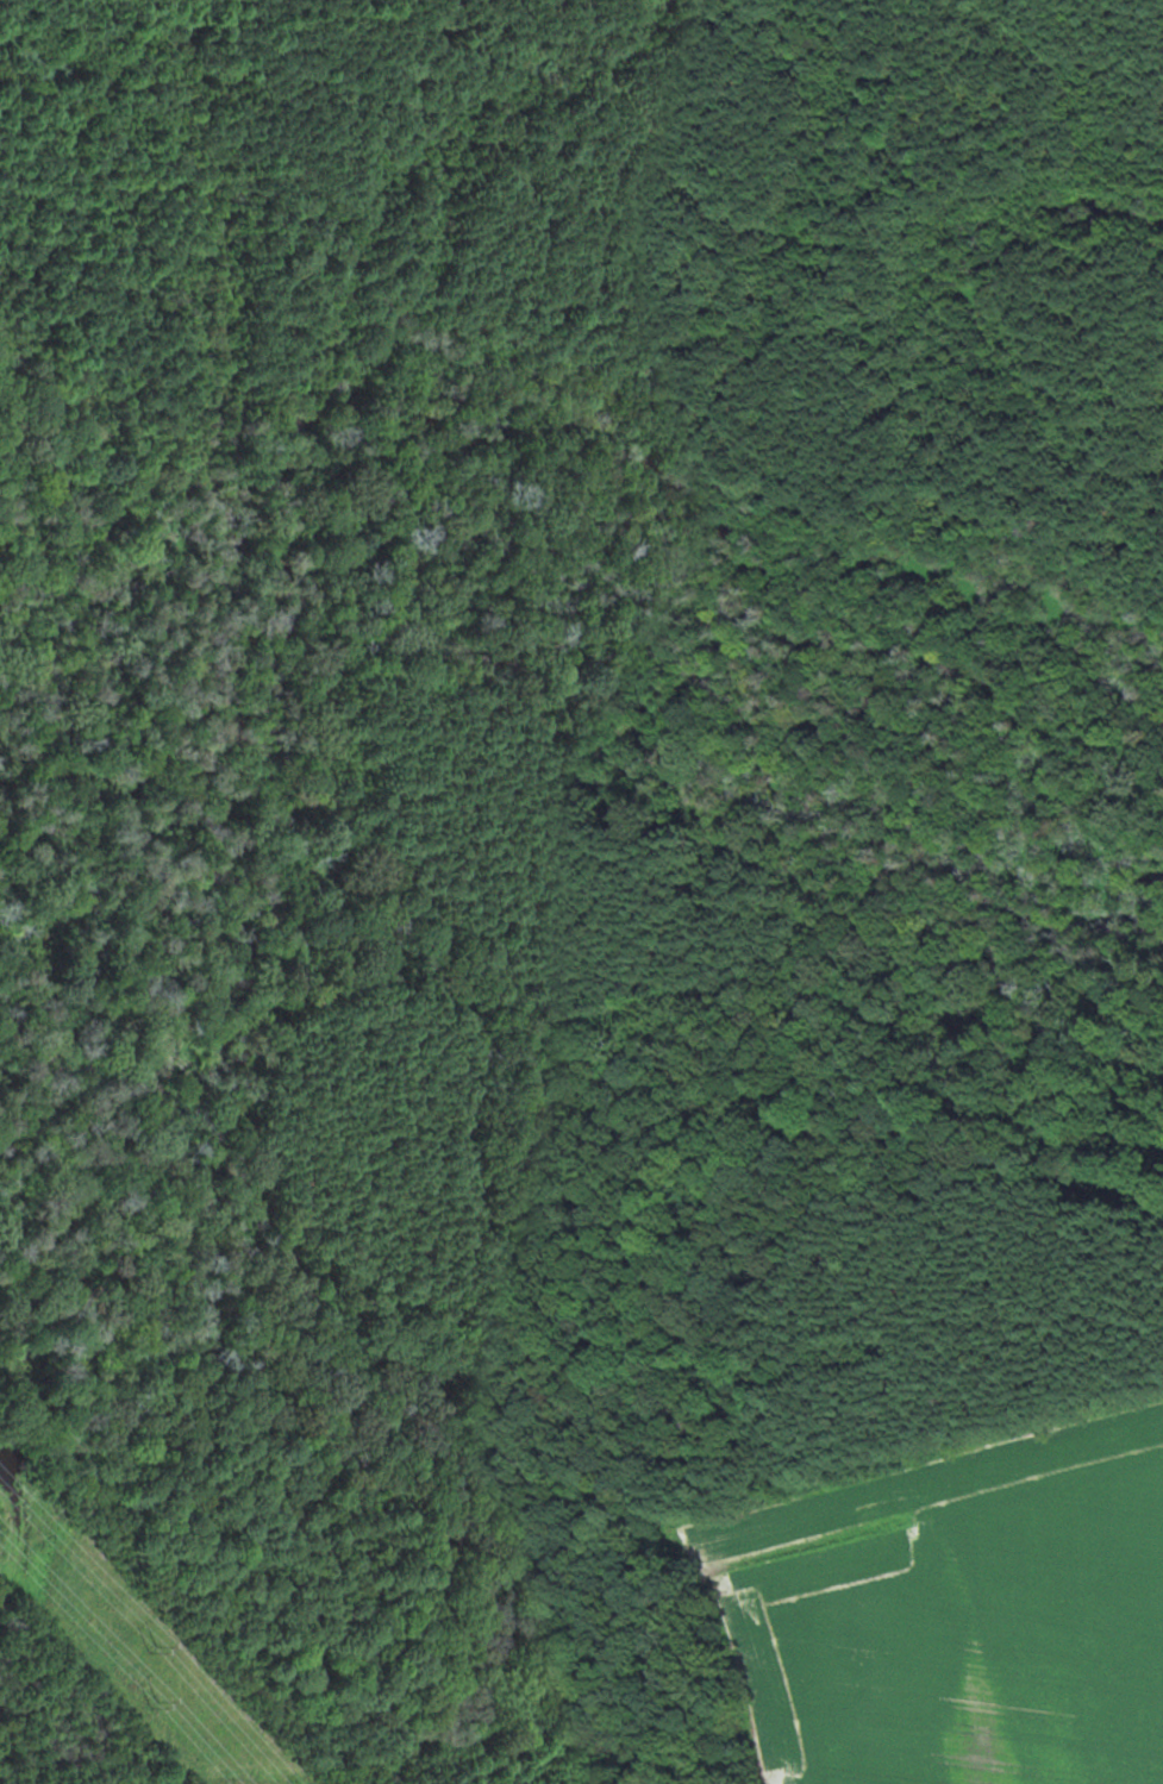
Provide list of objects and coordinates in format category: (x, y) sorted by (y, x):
power tower: (155, 1651)
power tower: (158, 1704)

